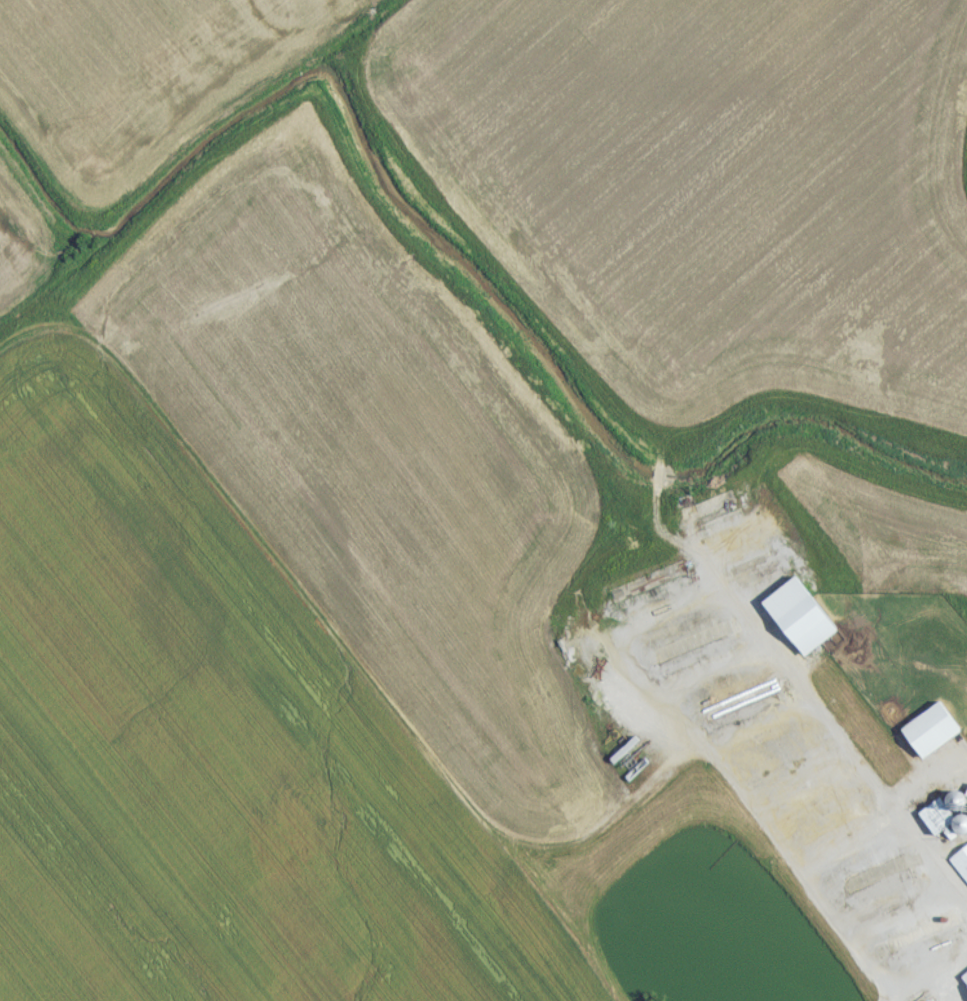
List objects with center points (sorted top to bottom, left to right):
building: (808, 621)
building: (937, 735)
building: (962, 867)
road: (926, 981)
building: (965, 981)

